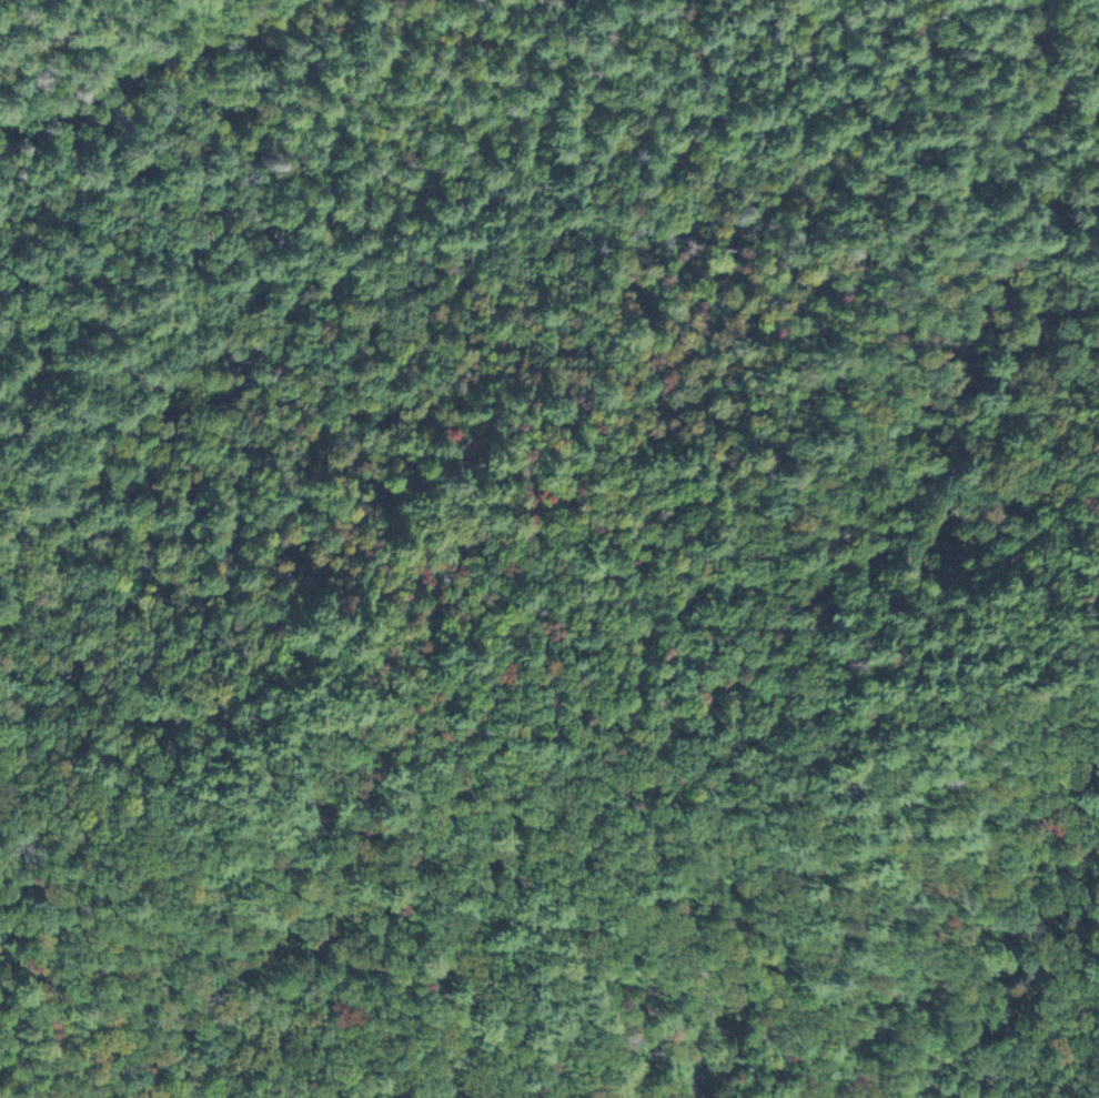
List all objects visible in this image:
road: (279, 173)

